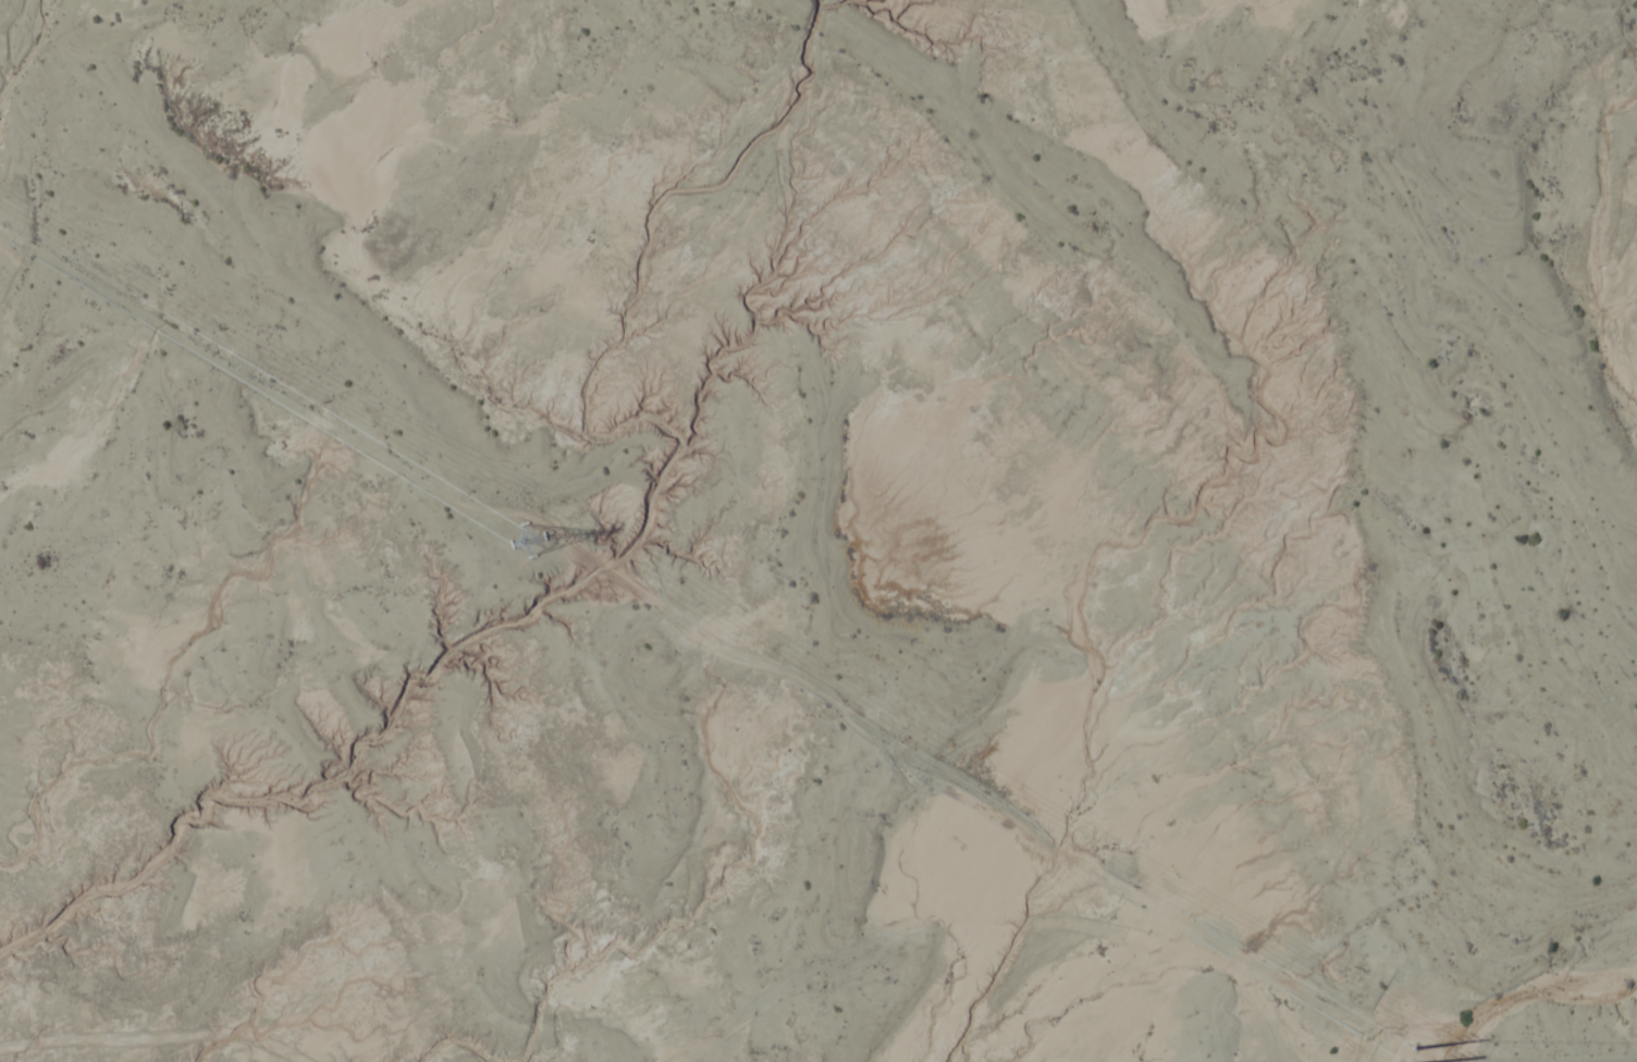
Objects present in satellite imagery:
power tower: (537, 546)

